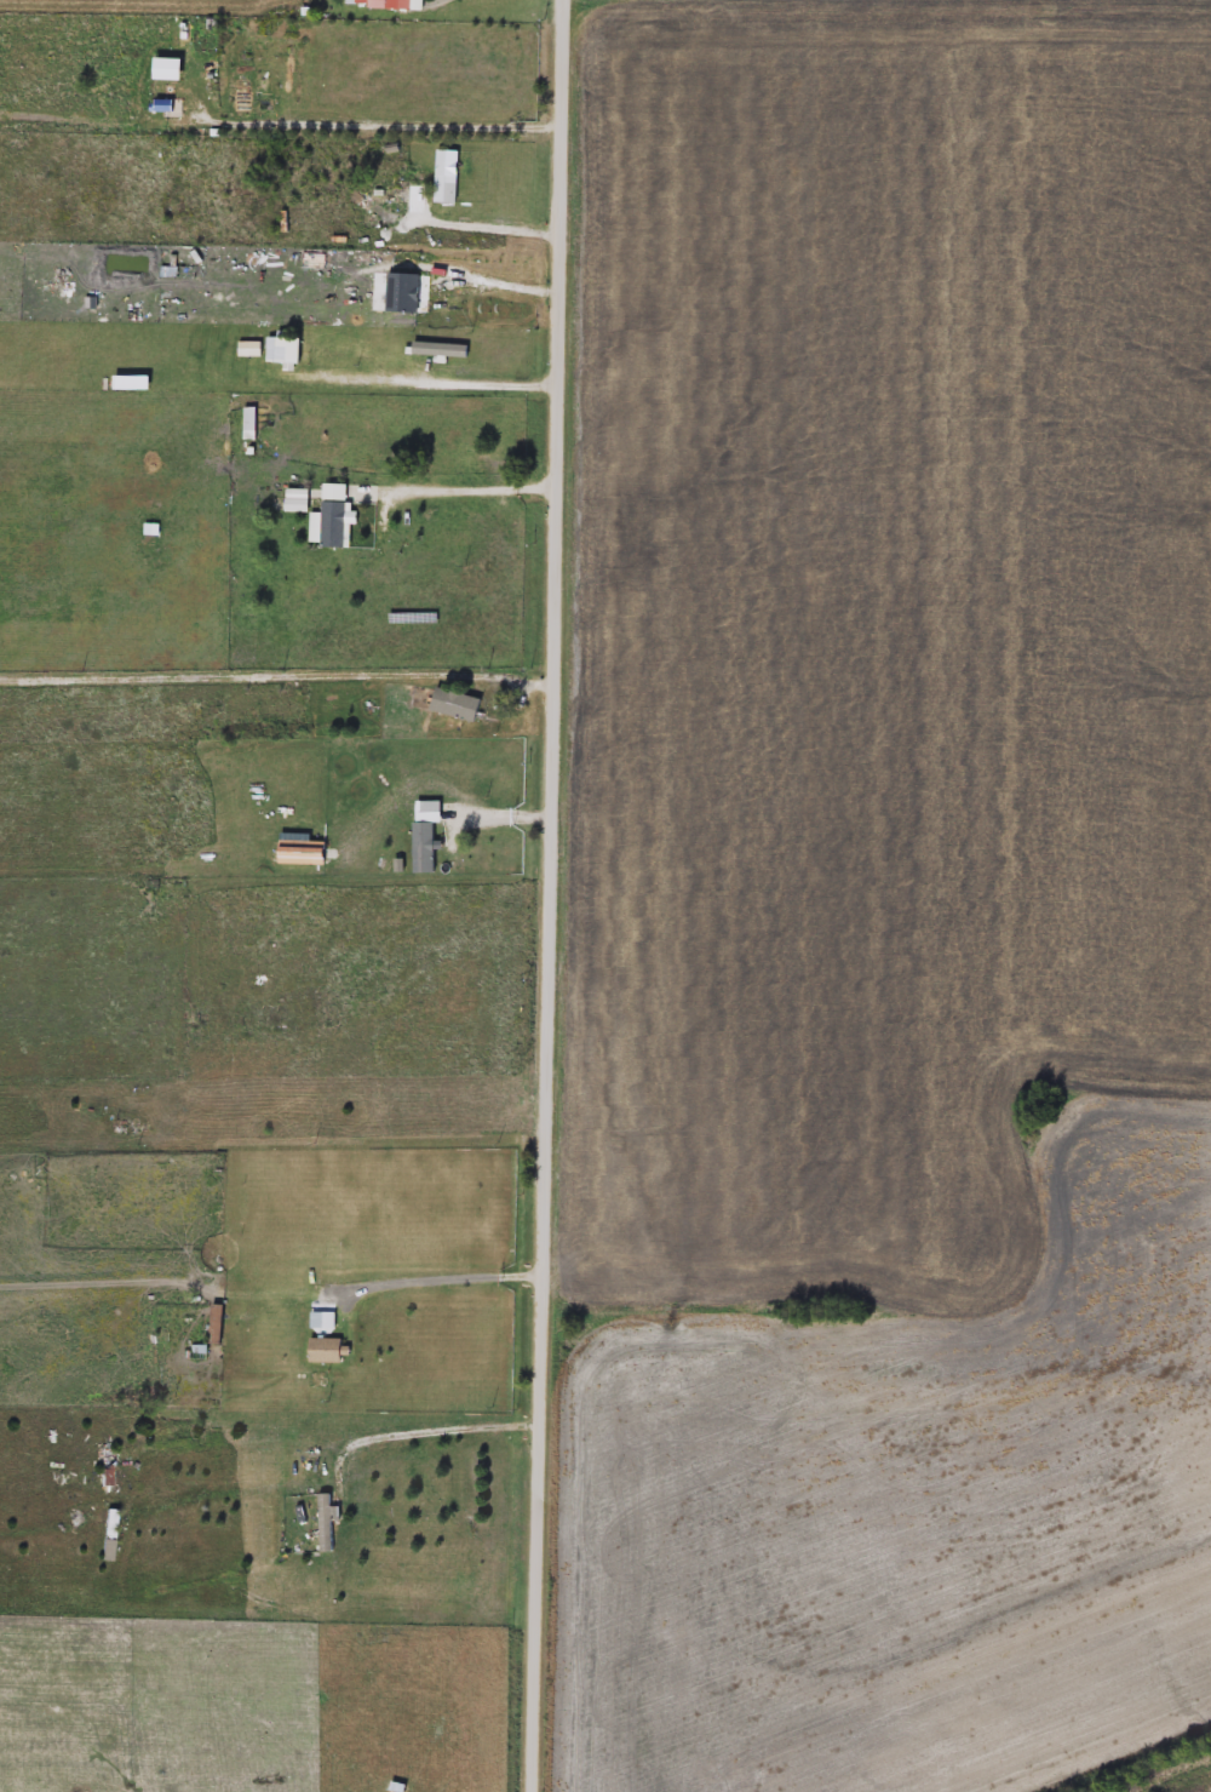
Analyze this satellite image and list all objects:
building: (392, 5)
road: (390, 114)
building: (452, 178)
road: (490, 218)
road: (486, 279)
building: (446, 351)
building: (294, 353)
road: (420, 384)
building: (257, 420)
road: (459, 492)
building: (339, 516)
road: (277, 674)
building: (463, 706)
building: (432, 835)
road: (551, 895)
road: (447, 1279)
building: (222, 1326)
building: (337, 1339)
road: (444, 1430)
building: (110, 1466)
building: (113, 1536)

